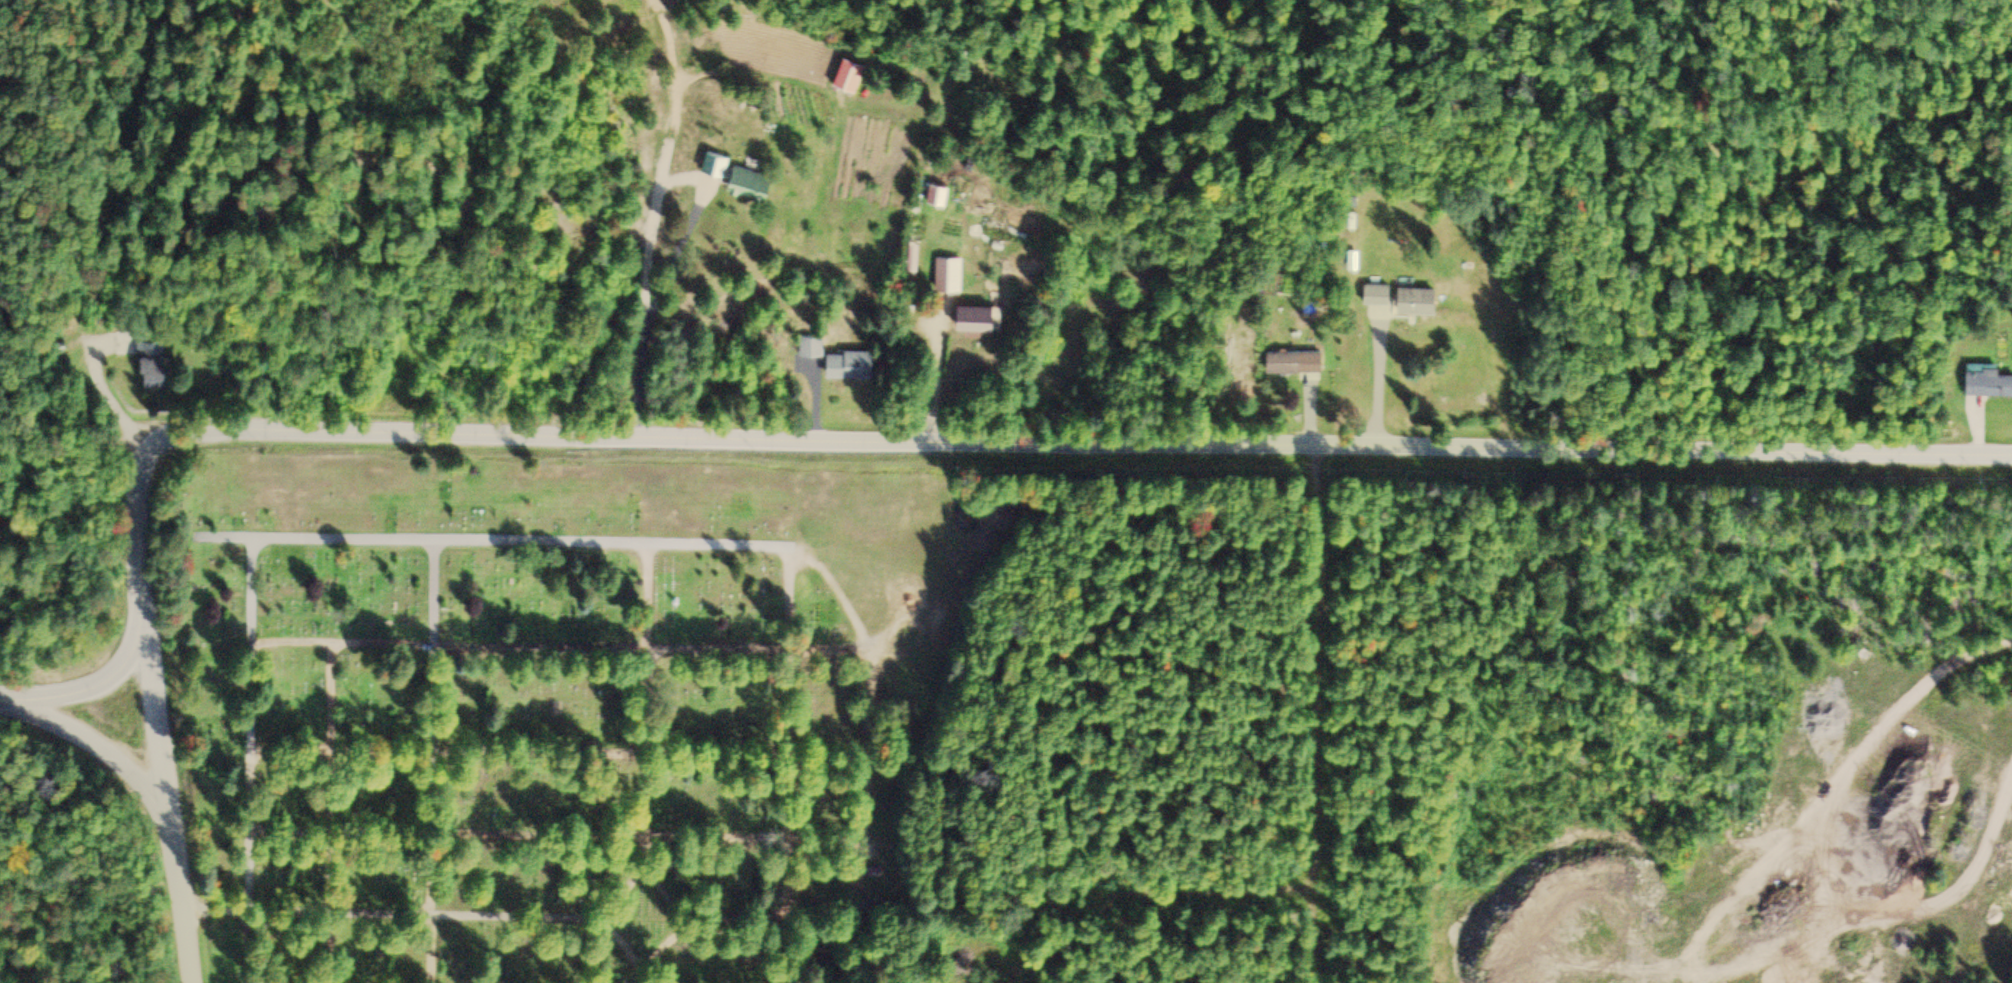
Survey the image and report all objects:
building: (852, 73)
building: (744, 175)
building: (942, 192)
road: (665, 221)
building: (951, 272)
building: (1409, 299)
building: (983, 316)
building: (813, 346)
building: (155, 360)
building: (1298, 360)
building: (854, 364)
building: (1989, 381)
park: (457, 388)
road: (897, 438)
road: (529, 542)
road: (252, 590)
road: (647, 650)
road: (93, 689)
park: (580, 714)
road: (1350, 714)
road: (562, 754)
road: (438, 761)
road: (793, 766)
road: (160, 795)
road: (335, 814)
road: (559, 836)
building: (870, 873)
road: (670, 900)
road: (591, 921)
road: (886, 948)
road: (620, 949)

